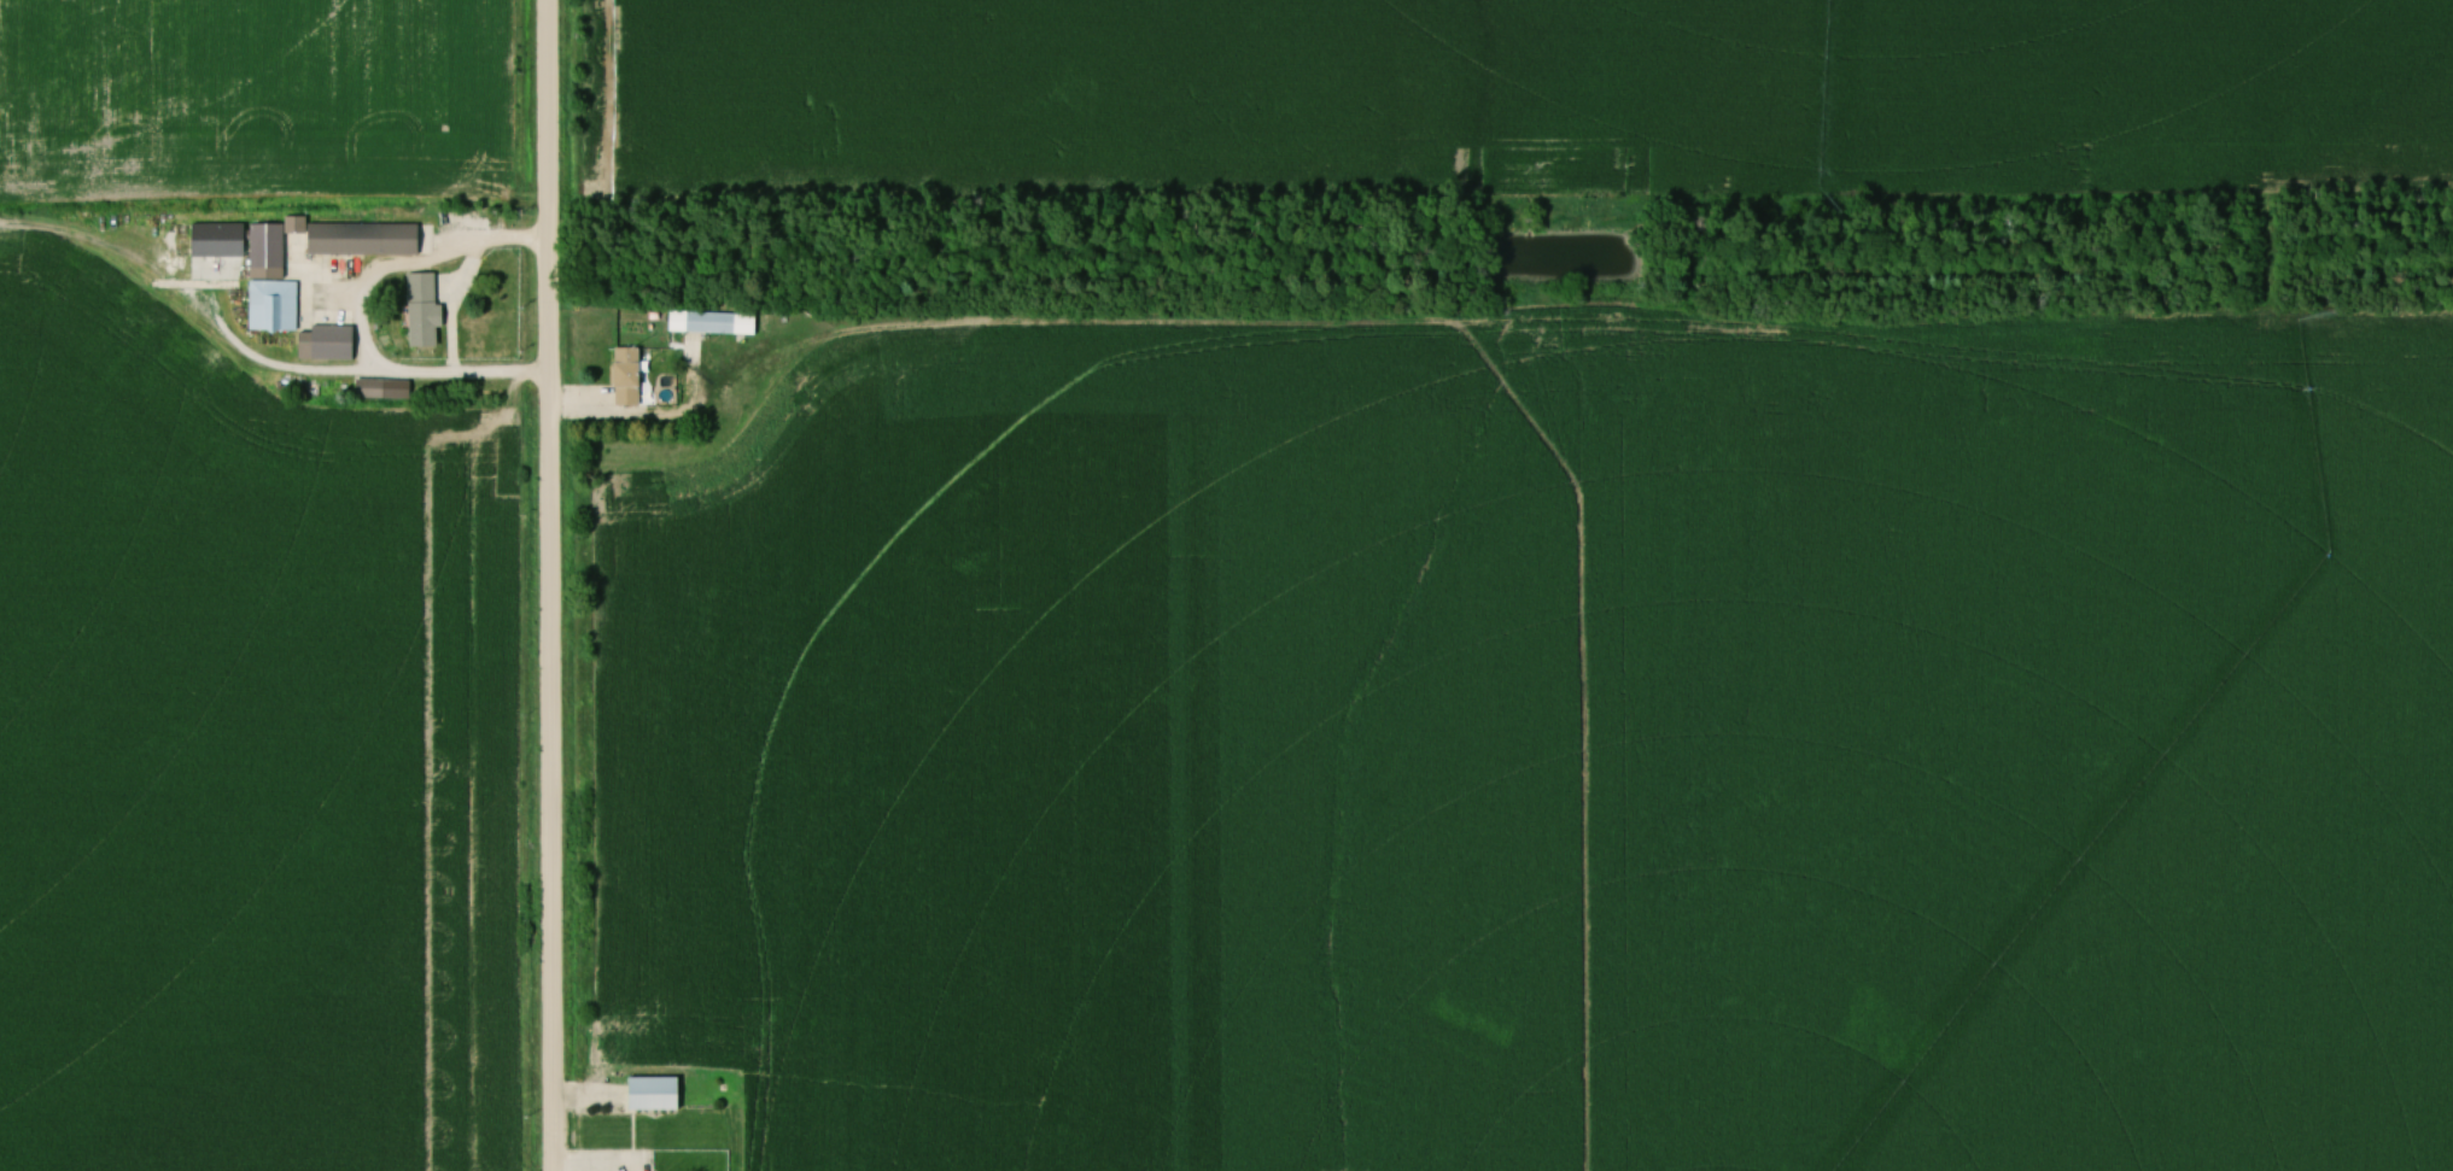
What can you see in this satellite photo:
building: (362, 240)
road: (466, 274)
building: (270, 282)
building: (422, 311)
building: (711, 323)
building: (325, 344)
road: (350, 376)
building: (626, 376)
building: (369, 390)
road: (554, 585)
building: (653, 1095)

